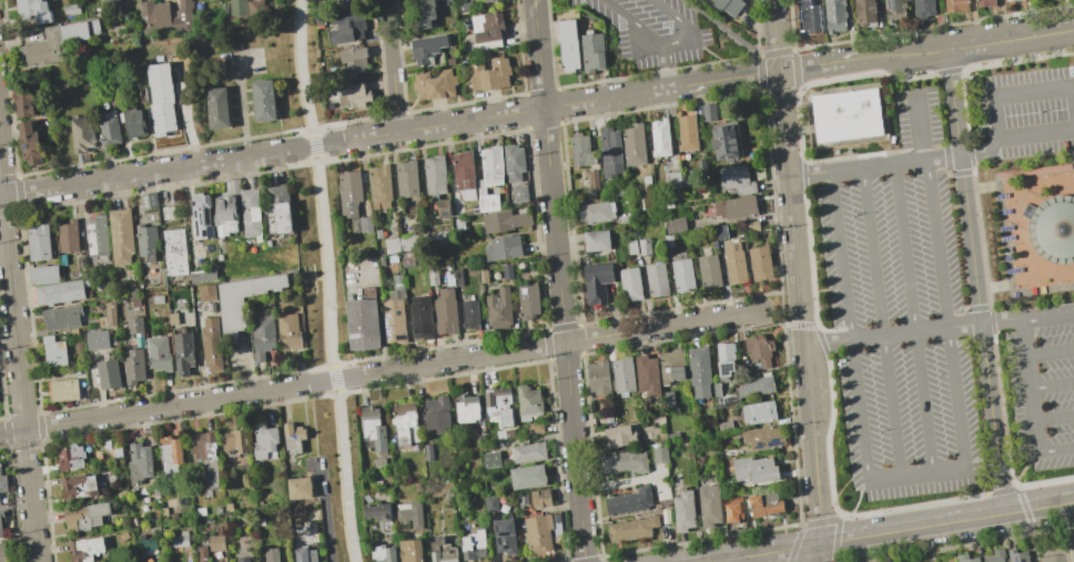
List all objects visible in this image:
building: (487, 0)
building: (1012, 0)
building: (346, 2)
building: (984, 2)
park: (1070, 4)
building: (110, 6)
building: (727, 6)
building: (955, 6)
building: (236, 7)
building: (255, 8)
building: (923, 8)
building: (31, 9)
building: (71, 9)
building: (895, 10)
building: (865, 11)
building: (422, 13)
building: (835, 16)
building: (164, 17)
building: (320, 17)
building: (809, 18)
building: (348, 25)
building: (487, 30)
parking lot: (655, 30)
road: (728, 31)
road: (773, 31)
road: (989, 41)
building: (55, 42)
road: (666, 44)
building: (568, 45)
building: (426, 47)
building: (591, 51)
building: (354, 59)
road: (843, 60)
road: (391, 65)
road: (666, 65)
road: (762, 70)
road: (779, 70)
building: (489, 73)
road: (966, 75)
road: (906, 76)
park: (306, 83)
building: (435, 84)
road: (1035, 92)
building: (353, 95)
building: (162, 99)
building: (263, 100)
building: (24, 103)
building: (219, 108)
parking lot: (1026, 111)
building: (709, 112)
road: (999, 117)
building: (848, 119)
building: (136, 121)
road: (921, 127)
building: (110, 132)
building: (687, 133)
building: (83, 134)
road: (376, 135)
road: (1013, 136)
building: (660, 137)
building: (726, 141)
building: (30, 143)
building: (635, 144)
building: (581, 150)
building: (610, 152)
building: (513, 162)
building: (492, 165)
road: (873, 166)
building: (1034, 170)
building: (465, 174)
building: (435, 175)
building: (592, 177)
building: (406, 178)
building: (672, 180)
building: (737, 180)
building: (379, 186)
building: (349, 193)
building: (519, 193)
rooftop solar panel: (1004, 195)
building: (149, 201)
building: (488, 202)
building: (443, 206)
building: (736, 207)
building: (280, 210)
rooftop solar panel: (1006, 211)
building: (169, 212)
building: (252, 212)
building: (597, 212)
building: (225, 214)
rooftop solar panel: (447, 215)
building: (202, 216)
building: (504, 221)
building: (366, 224)
building: (459, 224)
building: (676, 225)
rooftop solar panel: (93, 226)
building: (751, 226)
rooftop solar panel: (1009, 227)
road: (1013, 227)
building: (1053, 228)
building: (721, 232)
building: (98, 235)
building: (122, 235)
building: (69, 236)
rooftop solar panel: (1010, 237)
building: (426, 239)
rooftop solar panel: (95, 241)
building: (597, 241)
building: (669, 241)
building: (39, 242)
building: (148, 242)
building: (391, 245)
building: (715, 245)
building: (645, 246)
building: (503, 247)
building: (632, 247)
rooftop solar panel: (1007, 248)
building: (175, 252)
rooftop solar panel: (1010, 258)
building: (734, 263)
building: (760, 263)
rooftop solar panel: (1017, 270)
building: (506, 272)
building: (709, 272)
building: (43, 274)
building: (203, 275)
building: (683, 275)
building: (457, 276)
building: (484, 276)
building: (433, 278)
building: (657, 279)
road: (327, 280)
road: (558, 280)
road: (976, 280)
building: (397, 282)
building: (597, 282)
building: (630, 284)
building: (59, 292)
building: (207, 292)
building: (243, 299)
building: (528, 302)
building: (499, 307)
road: (780, 308)
road: (800, 310)
building: (445, 311)
rooftop solar panel: (398, 313)
parking lot: (899, 313)
building: (111, 314)
road: (948, 314)
building: (470, 315)
building: (62, 317)
building: (421, 318)
road: (915, 318)
road: (1048, 318)
building: (173, 319)
building: (394, 320)
road: (1002, 320)
road: (882, 323)
building: (363, 324)
road: (852, 325)
building: (135, 326)
road: (918, 329)
building: (290, 330)
rooftop solar panel: (388, 333)
building: (263, 336)
rooftop solar panel: (401, 338)
building: (97, 339)
road: (828, 341)
building: (212, 344)
building: (79, 348)
building: (759, 349)
building: (54, 350)
building: (183, 352)
road: (1051, 352)
building: (159, 354)
road: (18, 357)
park: (330, 359)
building: (726, 359)
building: (133, 366)
building: (671, 366)
rooftop solar panel: (727, 369)
building: (699, 371)
road: (381, 372)
building: (109, 374)
building: (624, 374)
building: (647, 375)
building: (598, 378)
parking lot: (1043, 385)
building: (757, 386)
road: (1053, 386)
road: (1031, 387)
building: (63, 389)
building: (717, 389)
building: (528, 402)
building: (499, 406)
building: (466, 408)
building: (759, 412)
building: (437, 413)
road: (1054, 418)
building: (405, 422)
building: (372, 427)
building: (725, 427)
building: (536, 428)
building: (505, 433)
building: (619, 436)
building: (293, 437)
building: (762, 437)
building: (234, 441)
building: (264, 442)
rooftop solar panel: (773, 443)
rooftop solar panel: (759, 447)
building: (170, 449)
road: (1056, 450)
building: (427, 451)
building: (527, 452)
building: (118, 453)
building: (659, 454)
building: (71, 457)
building: (206, 457)
building: (490, 459)
building: (138, 461)
building: (624, 461)
building: (756, 469)
road: (919, 474)
building: (527, 477)
building: (2, 481)
road: (1016, 481)
building: (79, 486)
road: (844, 487)
building: (300, 488)
road: (983, 491)
building: (540, 498)
building: (0, 501)
building: (629, 501)
building: (490, 503)
building: (710, 505)
building: (764, 505)
building: (733, 509)
building: (377, 511)
building: (683, 511)
building: (409, 513)
building: (1, 514)
building: (85, 515)
road: (850, 517)
road: (326, 519)
road: (944, 523)
building: (632, 529)
building: (1, 531)
building: (539, 532)
road: (1050, 534)
building: (504, 535)
building: (180, 542)
building: (216, 542)
building: (146, 544)
building: (474, 545)
building: (85, 549)
building: (409, 550)
building: (442, 551)
building: (3, 553)
building: (202, 553)
road: (764, 553)
road: (814, 553)
building: (272, 554)
building: (304, 554)
building: (382, 554)
building: (1017, 555)
building: (995, 556)
building: (242, 559)
building: (949, 559)
building: (965, 559)
building: (915, 561)
rooftop solar panel: (1017, 561)
rooftop solar panel: (1021, 561)
road: (1053, 561)

